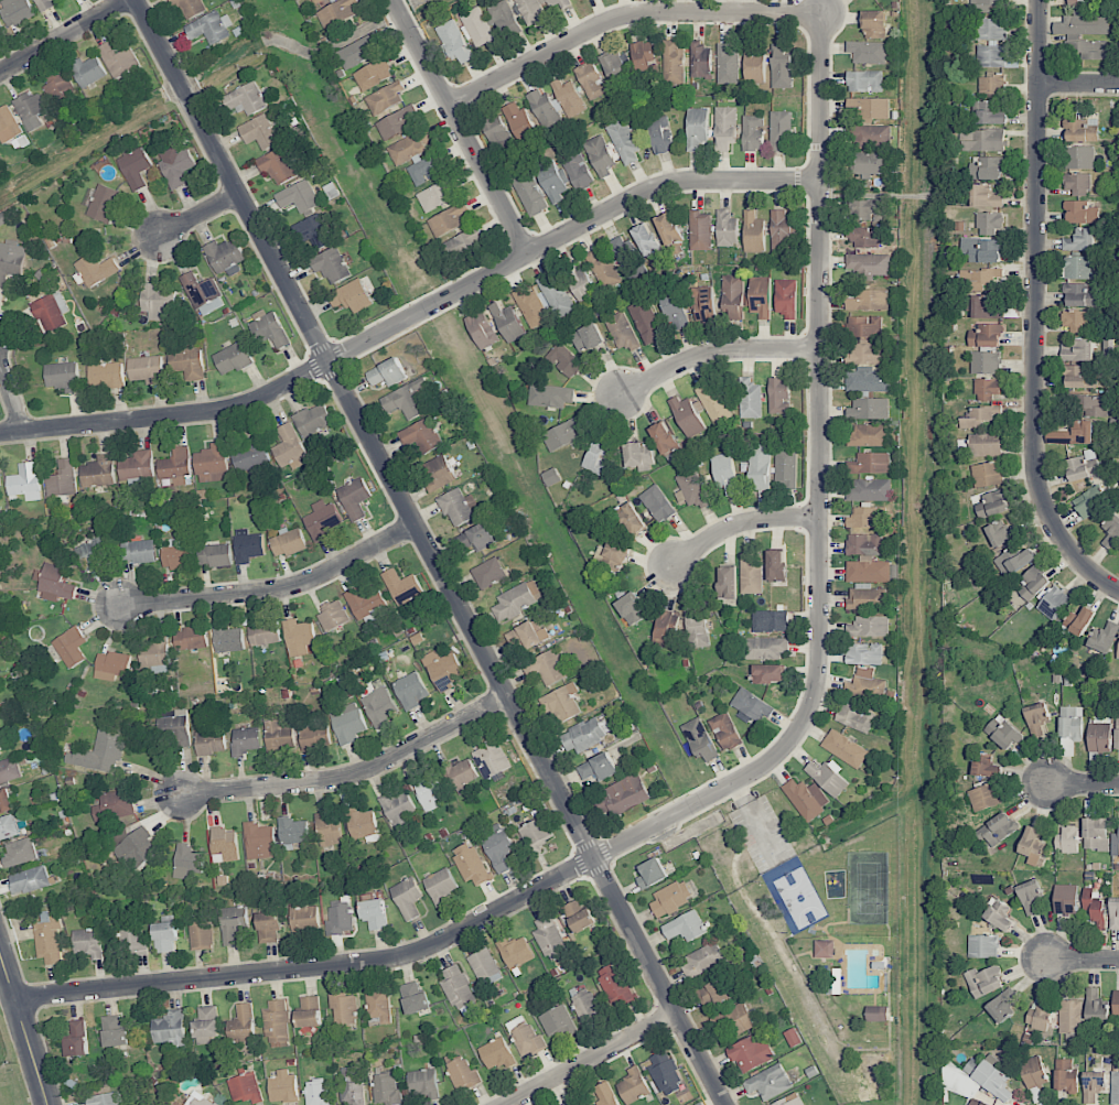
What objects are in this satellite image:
building: (315, 1)
building: (1083, 2)
building: (557, 3)
building: (44, 4)
building: (986, 4)
building: (190, 8)
building: (15, 11)
building: (531, 11)
building: (338, 13)
road: (624, 14)
building: (505, 19)
building: (1083, 22)
building: (875, 23)
building: (209, 28)
building: (478, 28)
building: (1, 31)
road: (64, 35)
building: (454, 41)
building: (992, 42)
building: (1088, 48)
building: (361, 50)
building: (868, 52)
building: (642, 58)
building: (119, 59)
building: (700, 61)
building: (754, 61)
building: (673, 65)
building: (727, 65)
building: (782, 67)
building: (615, 68)
building: (88, 71)
building: (373, 74)
building: (591, 80)
building: (865, 80)
building: (992, 85)
road: (1078, 85)
building: (60, 86)
building: (569, 97)
building: (384, 98)
building: (246, 99)
building: (30, 109)
building: (545, 109)
building: (867, 110)
building: (990, 113)
building: (397, 122)
building: (520, 122)
building: (9, 124)
road: (461, 127)
building: (697, 128)
building: (725, 128)
building: (781, 129)
building: (1082, 130)
building: (259, 132)
building: (497, 132)
building: (753, 132)
building: (660, 134)
building: (869, 136)
building: (982, 140)
building: (624, 142)
building: (409, 147)
building: (600, 155)
building: (1080, 156)
building: (868, 163)
building: (175, 165)
building: (278, 165)
building: (136, 167)
building: (988, 167)
building: (427, 169)
building: (578, 171)
building: (552, 180)
building: (1077, 183)
building: (530, 194)
building: (435, 195)
building: (298, 196)
building: (986, 196)
building: (104, 203)
building: (868, 209)
building: (1080, 212)
road: (198, 214)
building: (448, 220)
building: (990, 223)
building: (727, 228)
building: (700, 230)
building: (314, 231)
building: (753, 232)
building: (782, 232)
building: (670, 234)
building: (867, 236)
building: (646, 239)
building: (466, 240)
building: (1080, 240)
building: (981, 250)
building: (225, 256)
building: (627, 258)
building: (11, 261)
building: (331, 264)
building: (868, 264)
building: (1079, 267)
building: (95, 269)
building: (602, 269)
building: (979, 278)
building: (578, 282)
building: (203, 294)
building: (555, 294)
building: (351, 295)
building: (732, 295)
building: (1079, 295)
building: (761, 296)
building: (786, 297)
building: (869, 300)
building: (158, 302)
building: (702, 304)
building: (530, 305)
building: (982, 306)
building: (675, 310)
building: (51, 311)
road: (1035, 312)
road: (415, 316)
building: (645, 321)
building: (1078, 321)
building: (507, 322)
building: (867, 326)
building: (269, 327)
building: (482, 329)
building: (621, 331)
building: (986, 336)
building: (587, 337)
building: (1077, 349)
road: (714, 350)
building: (869, 354)
building: (233, 358)
building: (564, 360)
building: (986, 361)
building: (189, 364)
building: (147, 369)
building: (387, 372)
building: (106, 375)
building: (1079, 376)
building: (62, 377)
building: (868, 380)
building: (987, 389)
building: (550, 396)
building: (778, 396)
road: (11, 397)
building: (750, 399)
building: (405, 400)
building: (713, 404)
building: (1093, 405)
building: (869, 409)
building: (979, 415)
building: (687, 416)
building: (313, 419)
building: (1078, 433)
building: (562, 434)
building: (865, 435)
building: (420, 436)
building: (664, 440)
building: (984, 445)
building: (289, 447)
building: (599, 454)
building: (639, 455)
building: (249, 456)
building: (212, 463)
building: (870, 463)
building: (137, 465)
building: (176, 466)
building: (758, 466)
building: (1082, 466)
building: (785, 467)
building: (98, 472)
building: (438, 472)
building: (724, 473)
building: (987, 474)
building: (551, 477)
building: (62, 479)
building: (25, 481)
building: (692, 488)
building: (869, 489)
building: (354, 498)
building: (1090, 501)
building: (657, 503)
building: (992, 503)
building: (458, 507)
building: (868, 518)
building: (631, 519)
building: (322, 520)
road: (738, 524)
building: (1111, 531)
building: (1001, 533)
building: (476, 538)
building: (288, 542)
building: (248, 545)
building: (139, 551)
building: (95, 552)
road: (431, 552)
building: (614, 554)
building: (216, 555)
building: (177, 556)
building: (867, 559)
building: (1013, 561)
building: (776, 565)
building: (488, 573)
building: (751, 575)
building: (728, 582)
building: (1033, 582)
building: (54, 583)
building: (401, 586)
road: (276, 589)
building: (867, 597)
building: (516, 599)
building: (365, 600)
building: (632, 608)
building: (333, 616)
building: (770, 620)
building: (1078, 620)
building: (870, 626)
building: (696, 627)
building: (666, 629)
building: (263, 632)
building: (526, 636)
building: (299, 637)
building: (1104, 637)
building: (190, 638)
building: (227, 639)
building: (71, 647)
building: (763, 647)
building: (864, 653)
building: (155, 654)
building: (1118, 654)
building: (111, 665)
building: (547, 667)
building: (442, 669)
building: (768, 673)
building: (865, 686)
building: (410, 690)
building: (562, 702)
building: (379, 705)
building: (751, 706)
building: (854, 717)
building: (1036, 718)
building: (174, 724)
building: (348, 724)
building: (1070, 728)
building: (725, 730)
building: (1003, 733)
building: (279, 735)
building: (583, 735)
building: (315, 737)
building: (1099, 737)
building: (211, 739)
building: (700, 739)
building: (245, 740)
building: (844, 748)
building: (100, 751)
building: (0, 754)
building: (492, 759)
building: (987, 766)
building: (598, 767)
building: (10, 770)
road: (354, 772)
road: (753, 773)
building: (460, 776)
building: (827, 778)
road: (1085, 786)
building: (429, 791)
building: (626, 793)
building: (984, 797)
building: (806, 798)
building: (6, 800)
building: (109, 806)
building: (398, 810)
road: (754, 821)
building: (362, 823)
building: (9, 827)
building: (997, 828)
building: (329, 830)
building: (293, 832)
building: (536, 832)
building: (1095, 833)
building: (1067, 839)
building: (259, 841)
building: (225, 844)
building: (1031, 845)
building: (498, 847)
building: (136, 849)
building: (20, 853)
building: (187, 862)
building: (470, 864)
building: (652, 874)
building: (30, 880)
building: (440, 886)
park: (868, 887)
building: (1030, 896)
building: (407, 898)
building: (671, 898)
park: (799, 898)
building: (1065, 899)
building: (1095, 911)
building: (375, 913)
building: (1113, 913)
building: (999, 914)
building: (579, 916)
building: (341, 917)
building: (304, 918)
building: (233, 923)
building: (269, 927)
building: (685, 927)
building: (201, 933)
building: (165, 935)
building: (133, 936)
building: (49, 938)
building: (549, 938)
building: (88, 943)
building: (983, 946)
building: (825, 949)
building: (515, 952)
building: (703, 960)
road: (1084, 962)
building: (484, 967)
building: (833, 981)
building: (983, 981)
building: (613, 984)
building: (460, 990)
building: (713, 993)
building: (415, 997)
building: (1116, 1004)
building: (380, 1005)
building: (587, 1005)
building: (1096, 1005)
building: (1001, 1007)
building: (344, 1008)
building: (310, 1011)
building: (876, 1014)
building: (1069, 1016)
building: (1039, 1017)
building: (733, 1019)
building: (557, 1021)
building: (206, 1022)
building: (241, 1023)
building: (277, 1023)
road: (25, 1026)
building: (171, 1030)
building: (115, 1032)
building: (525, 1037)
building: (76, 1039)
building: (496, 1053)
building: (751, 1053)
road: (591, 1059)
building: (1034, 1072)
building: (462, 1073)
building: (665, 1073)
building: (1066, 1076)
building: (990, 1077)
building: (768, 1082)
building: (960, 1082)
building: (423, 1083)
building: (352, 1085)
building: (633, 1085)
building: (1094, 1085)
building: (283, 1086)
building: (1115, 1087)
building: (245, 1088)
building: (386, 1090)
building: (318, 1093)
building: (605, 1094)
building: (106, 1098)
building: (197, 1099)
building: (790, 1099)
building: (569, 1103)
building: (977, 1103)

